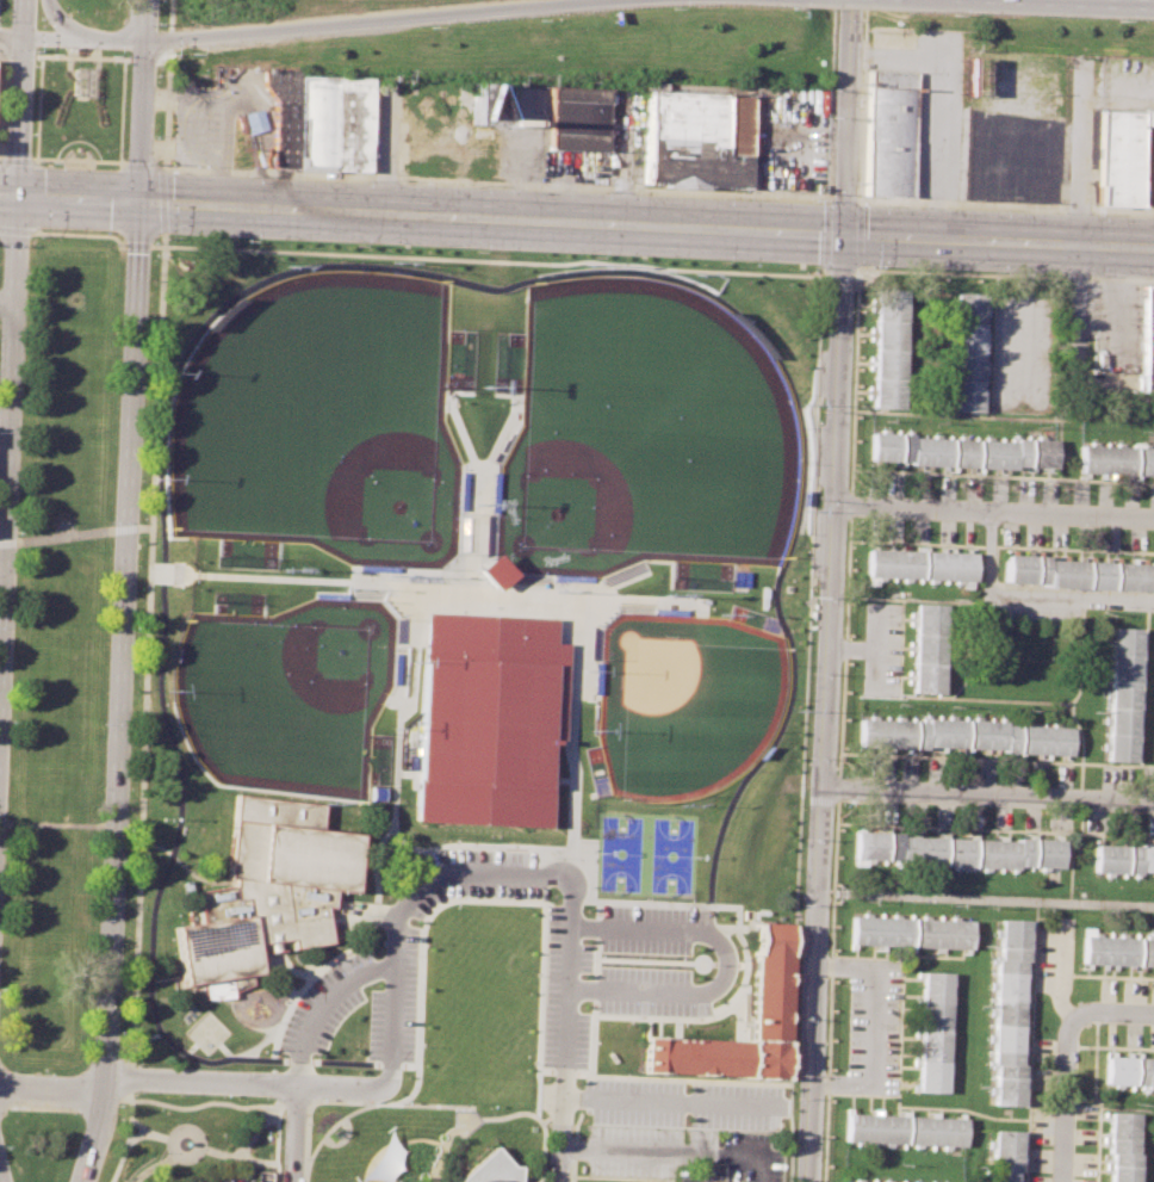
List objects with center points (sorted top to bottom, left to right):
street lamp: (74, 10)
street lamp: (93, 11)
park: (97, 12)
road: (170, 14)
road: (25, 19)
road: (374, 19)
road: (60, 20)
road: (12, 36)
traffic signals: (25, 38)
road: (85, 38)
road: (169, 38)
traffic signals: (145, 41)
street lamp: (52, 51)
street lamp: (111, 54)
road: (83, 56)
street lamp: (35, 64)
road: (81, 72)
street lamp: (156, 75)
road: (81, 86)
road: (80, 97)
building: (489, 103)
park: (80, 106)
road: (166, 109)
road: (20, 116)
building: (1148, 116)
road: (848, 117)
building: (319, 118)
building: (576, 124)
street lamp: (32, 132)
street lamp: (155, 134)
building: (697, 138)
building: (889, 141)
road: (939, 146)
building: (1121, 159)
road: (77, 160)
street lamp: (162, 163)
road: (496, 181)
traffic signals: (18, 194)
road: (840, 197)
road: (165, 202)
road: (957, 202)
traffic signals: (139, 203)
road: (1075, 206)
road: (316, 209)
road: (1121, 209)
road: (1078, 222)
road: (14, 229)
road: (738, 229)
road: (80, 231)
traffic signals: (844, 234)
road: (999, 239)
street lamp: (153, 241)
road: (136, 245)
road: (162, 246)
road: (536, 262)
road: (1073, 276)
road: (1121, 278)
road: (857, 284)
road: (7, 295)
street lamp: (118, 324)
street lamp: (26, 334)
building: (1147, 339)
building: (887, 345)
building: (968, 348)
road: (169, 386)
street lamp: (144, 408)
park: (322, 421)
road: (459, 433)
park: (640, 437)
road: (8, 443)
building: (960, 450)
building: (1117, 457)
building: (460, 490)
road: (479, 491)
building: (494, 491)
road: (849, 503)
road: (993, 509)
street lamp: (111, 521)
road: (136, 526)
road: (114, 527)
street lamp: (19, 531)
road: (70, 534)
road: (8, 542)
road: (2, 559)
building: (917, 564)
building: (374, 568)
building: (1077, 569)
building: (491, 570)
road: (161, 573)
building: (570, 577)
road: (439, 587)
road: (120, 592)
building: (329, 594)
road: (1029, 595)
road: (805, 601)
building: (669, 611)
street lamp: (136, 627)
road: (844, 644)
road: (873, 646)
building: (925, 646)
road: (850, 648)
park: (61, 650)
park: (471, 663)
building: (396, 668)
building: (596, 677)
building: (1121, 691)
park: (285, 692)
park: (678, 699)
road: (825, 707)
building: (486, 719)
street lamp: (12, 722)
street lamp: (103, 723)
road: (569, 734)
building: (963, 737)
road: (839, 785)
road: (988, 792)
road: (571, 815)
road: (56, 825)
street lamp: (128, 828)
road: (988, 829)
road: (1112, 834)
building: (955, 850)
park: (645, 854)
building: (1123, 858)
road: (571, 859)
road: (182, 865)
building: (266, 886)
road: (488, 899)
road: (986, 899)
road: (404, 908)
street lamp: (95, 921)
building: (910, 930)
building: (1116, 948)
parking lot: (553, 952)
flagpole: (701, 963)
road: (724, 963)
road: (163, 977)
road: (569, 984)
road: (830, 989)
parking lot: (325, 1003)
road: (321, 1004)
building: (767, 1005)
building: (1009, 1008)
road: (1117, 1010)
road: (246, 1023)
road: (899, 1026)
building: (932, 1031)
street lamp: (120, 1032)
road: (228, 1032)
road: (143, 1039)
road: (260, 1041)
road: (1030, 1041)
road: (188, 1047)
road: (223, 1048)
road: (343, 1062)
street lamp: (43, 1070)
building: (1130, 1072)
road: (663, 1077)
road: (198, 1081)
road: (1092, 1087)
road: (336, 1088)
road: (51, 1090)
street lamp: (137, 1093)
street lamp: (180, 1093)
street lamp: (223, 1095)
road: (1065, 1095)
street lamp: (266, 1096)
street lamp: (318, 1100)
street lamp: (362, 1100)
road: (358, 1101)
road: (669, 1101)
street lamp: (403, 1102)
street lamp: (446, 1103)
parking lot: (683, 1103)
road: (243, 1104)
street lamp: (117, 1106)
street lamp: (489, 1106)
street lamp: (533, 1107)
road: (956, 1108)
road: (498, 1116)
road: (130, 1122)
street lamp: (305, 1122)
road: (331, 1125)
building: (901, 1128)
road: (150, 1132)
street lamp: (572, 1133)
road: (293, 1134)
road: (136, 1135)
park: (193, 1135)
road: (420, 1139)
road: (562, 1139)
park: (41, 1143)
road: (246, 1144)
road: (575, 1145)
street lamp: (6, 1146)
building: (1119, 1146)
road: (646, 1151)
parking lot: (682, 1152)
road: (744, 1152)
street lamp: (73, 1155)
road: (188, 1155)
building: (1000, 1155)
street lamp: (304, 1157)
building: (380, 1158)
road: (255, 1159)
building: (490, 1169)
street lamp: (570, 1175)
parking lot: (238, 1177)
road: (389, 1178)
road: (0, 1180)
building: (887, 1180)

